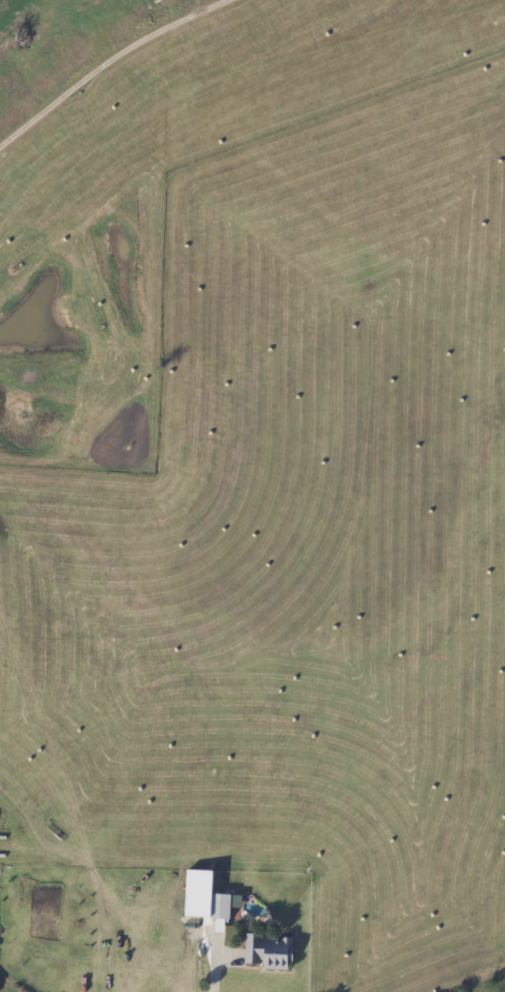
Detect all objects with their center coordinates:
building: (221, 906)
building: (268, 952)

